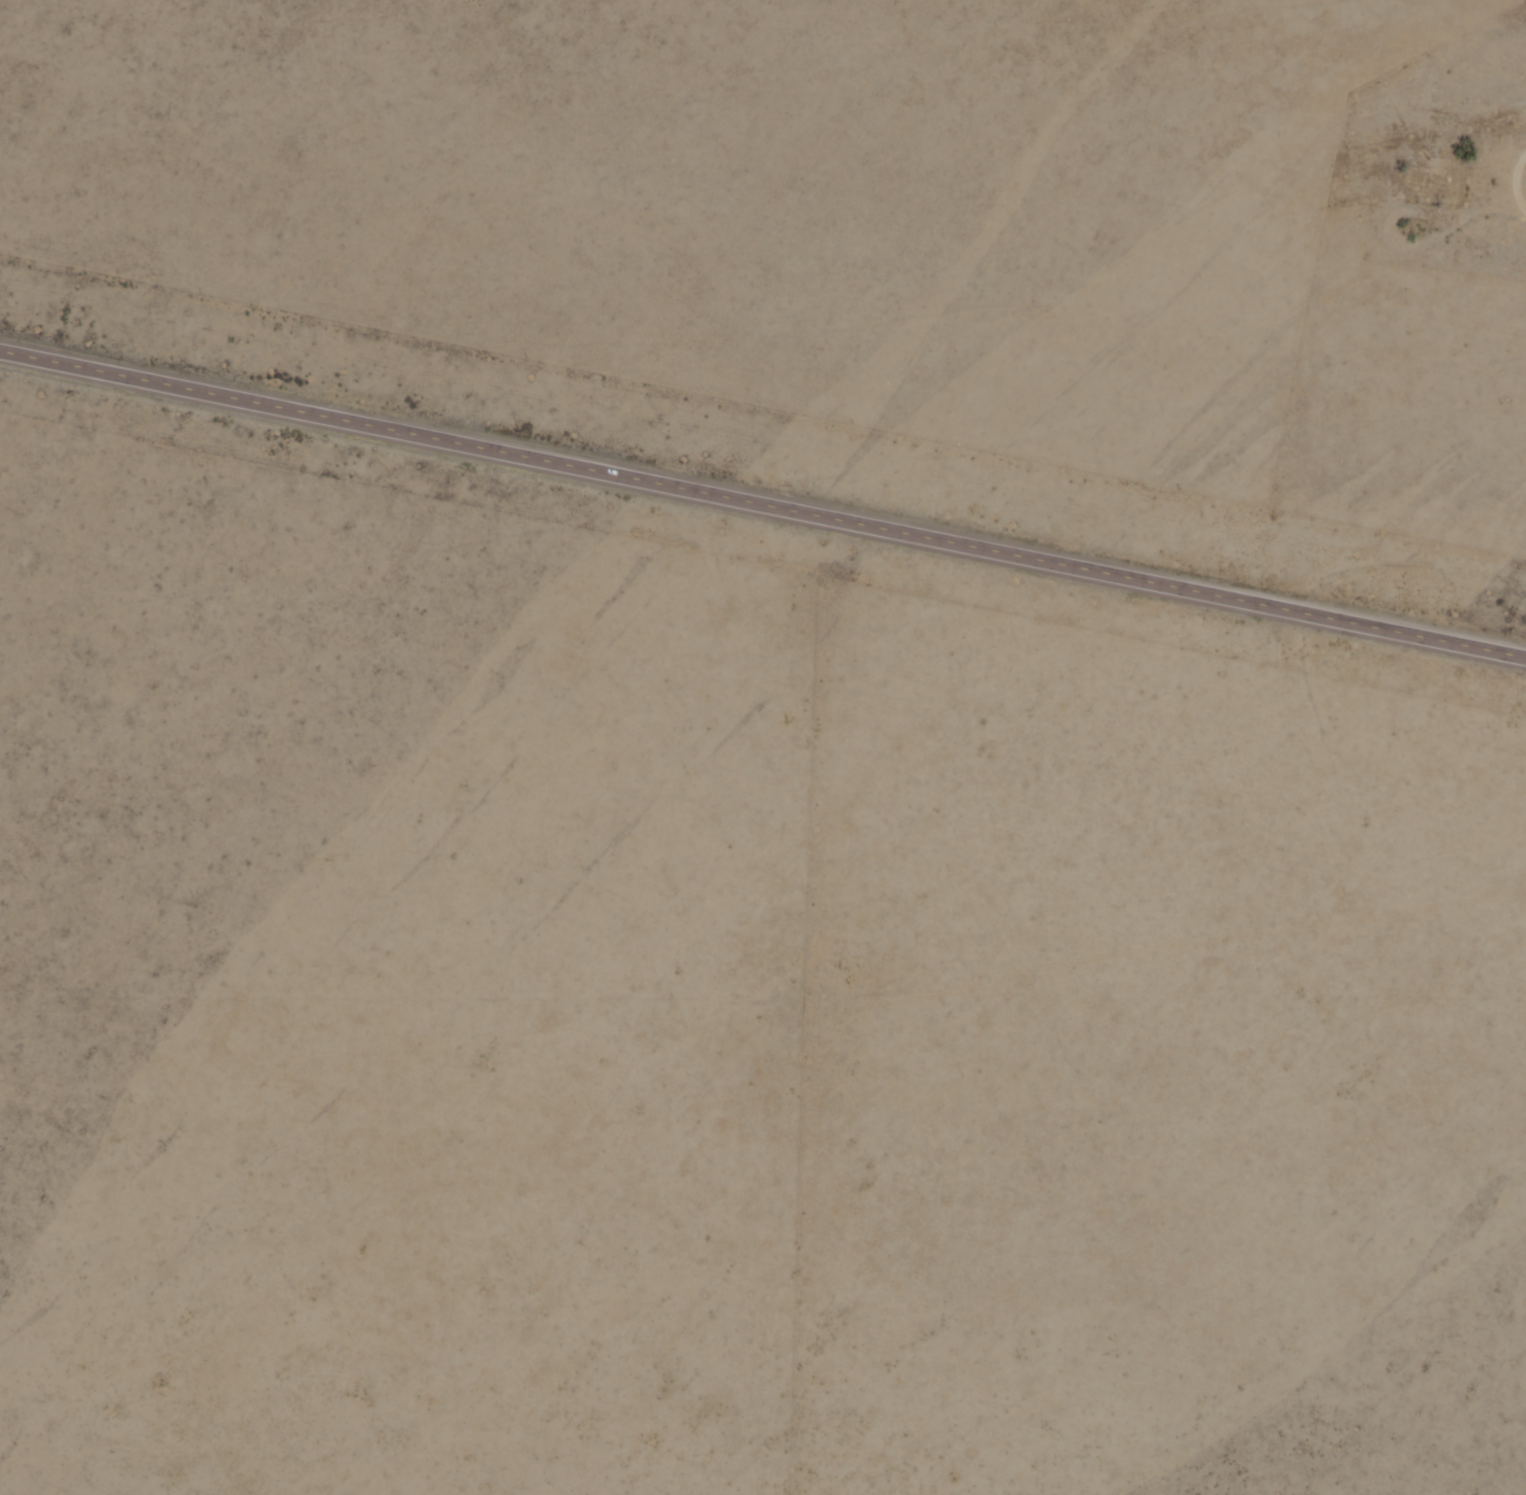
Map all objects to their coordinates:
road: (1479, 159)
building: (1433, 184)
road: (1521, 209)
road: (763, 504)

